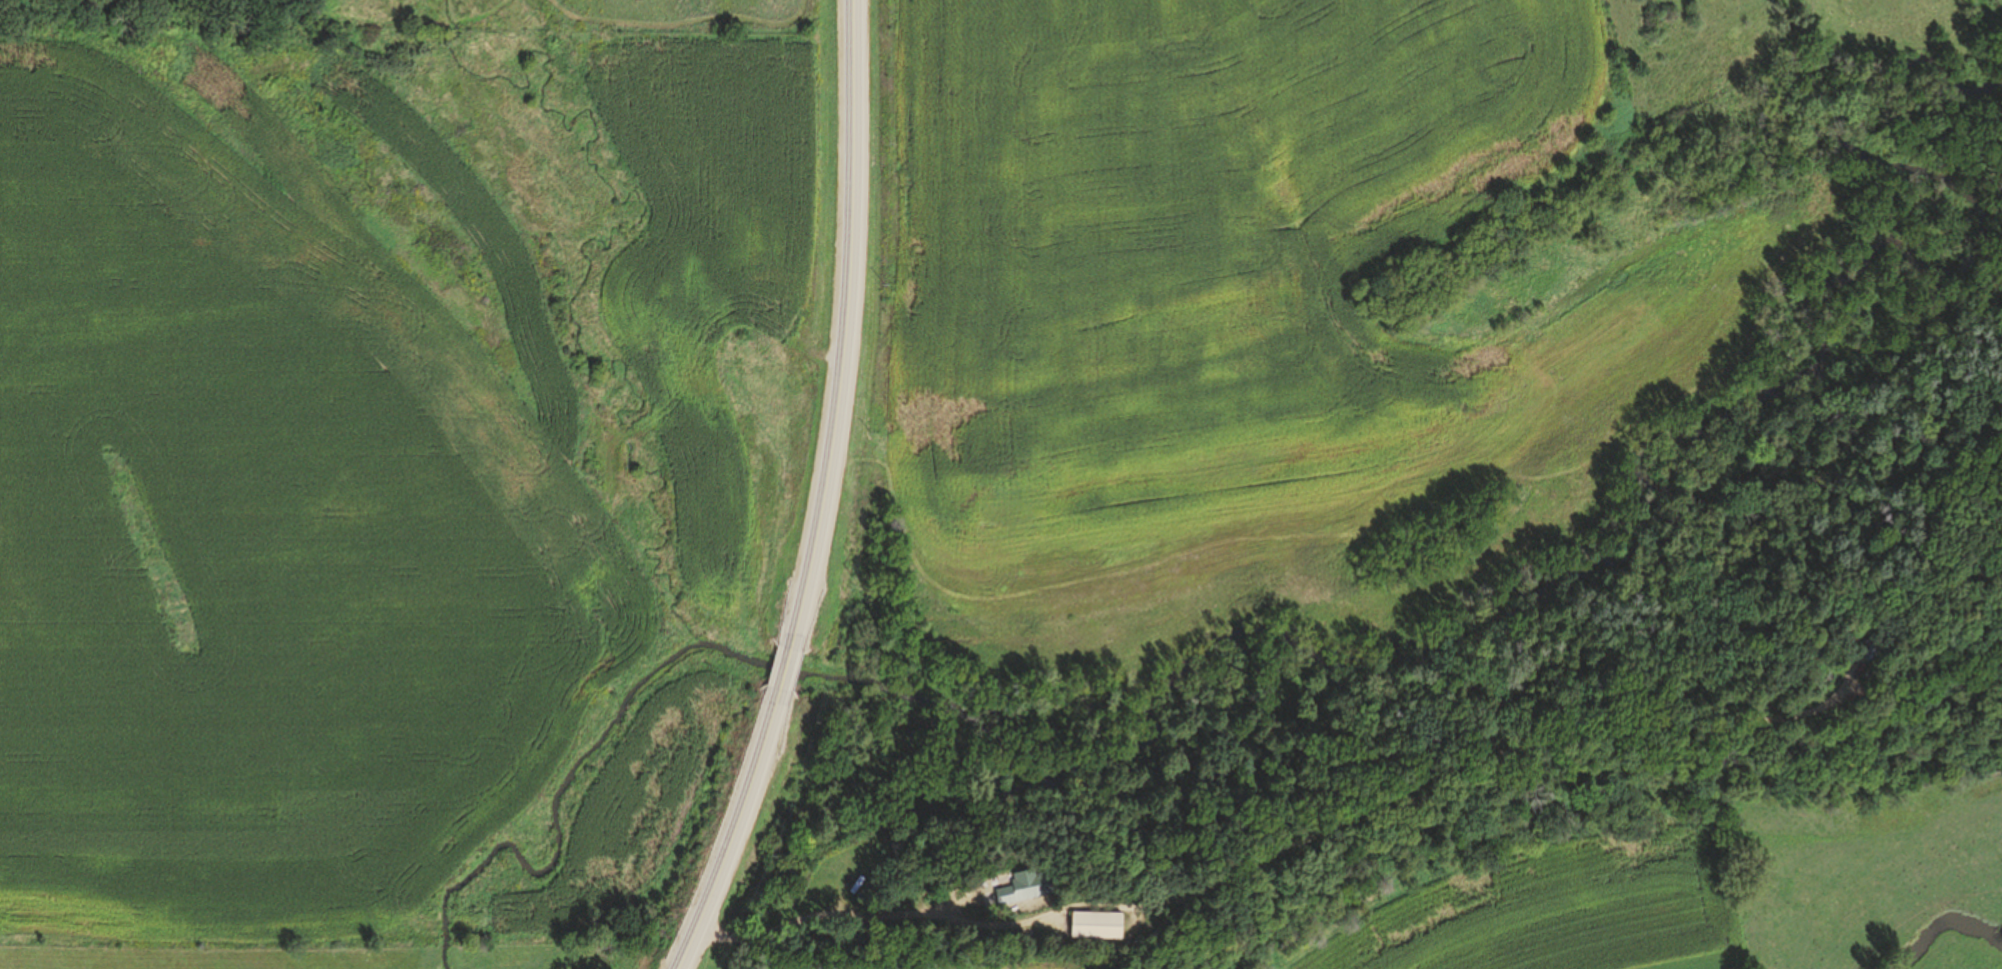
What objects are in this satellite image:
road: (842, 326)
building: (1875, 640)
road: (784, 667)
road: (732, 829)
road: (1285, 849)
building: (1034, 886)
building: (1093, 926)

